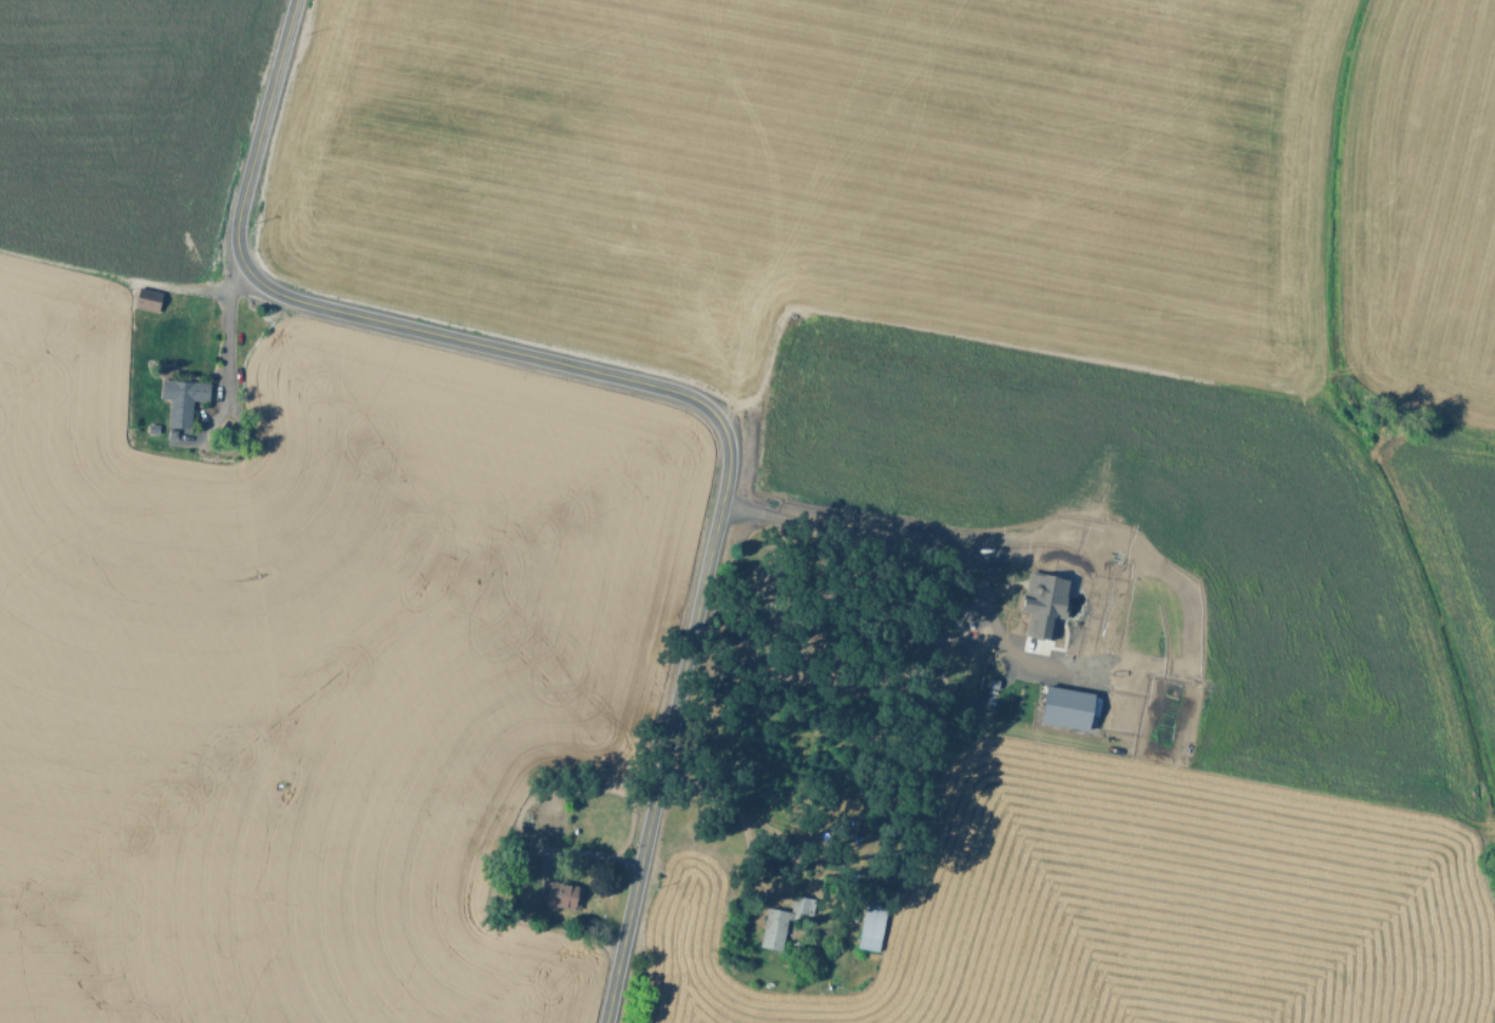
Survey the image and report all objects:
crop: (124, 128)
crop: (912, 181)
road: (114, 276)
building: (147, 297)
road: (227, 322)
road: (648, 382)
building: (182, 397)
building: (151, 426)
building: (1040, 524)
road: (916, 543)
building: (1041, 601)
crop: (309, 668)
building: (1047, 696)
road: (781, 833)
road: (594, 852)
building: (560, 893)
building: (872, 924)
building: (774, 926)

